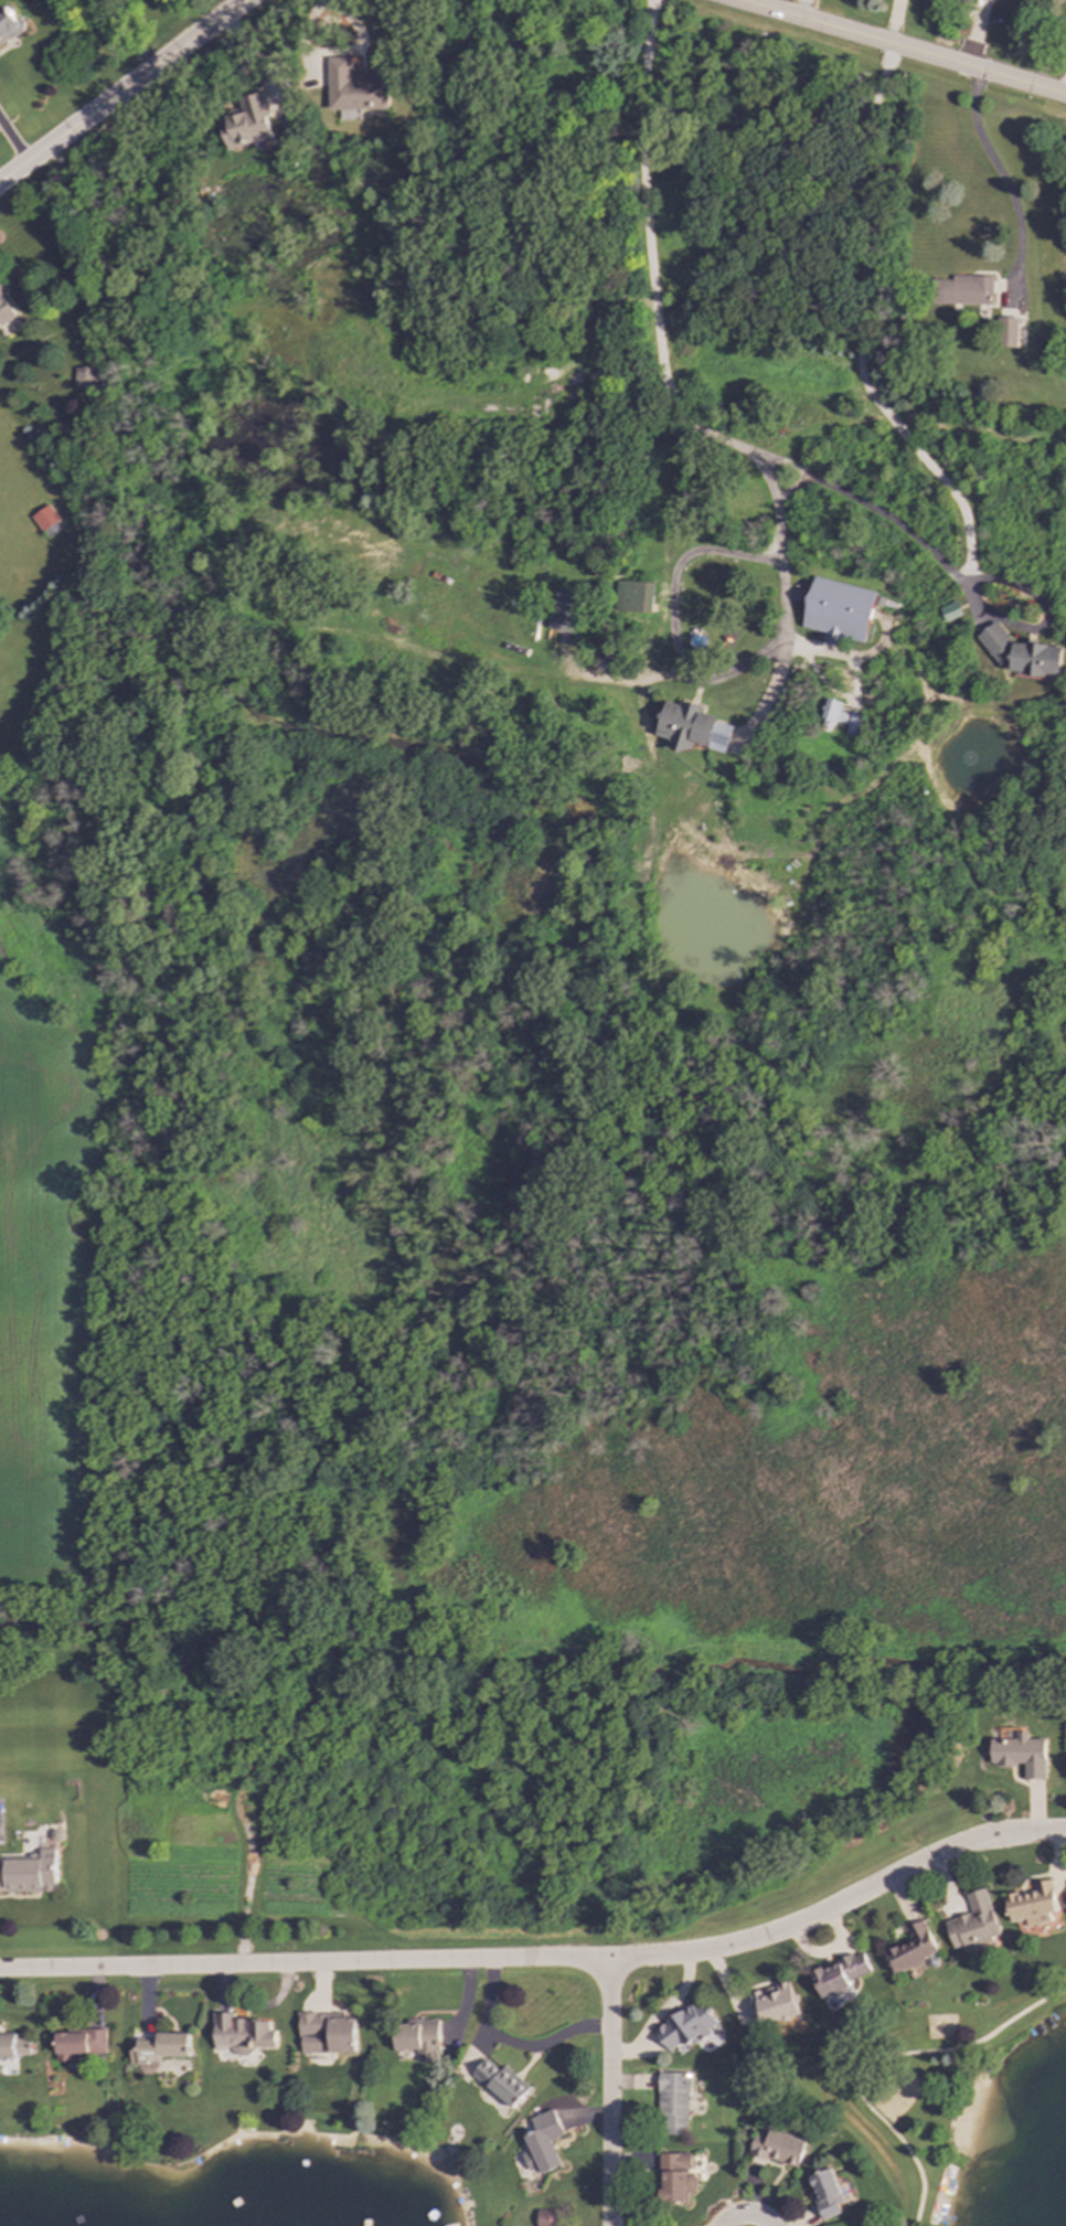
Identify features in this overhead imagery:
building: (1030, 0)
building: (8, 24)
road: (900, 47)
road: (339, 52)
building: (354, 87)
road: (124, 90)
building: (247, 123)
road: (14, 140)
road: (1000, 178)
building: (964, 290)
building: (4, 309)
road: (859, 331)
building: (1008, 331)
road: (662, 375)
building: (84, 379)
building: (44, 518)
road: (779, 569)
building: (633, 597)
building: (839, 610)
building: (564, 611)
building: (949, 611)
road: (672, 619)
building: (1020, 652)
building: (839, 717)
building: (692, 727)
crop: (40, 1292)
building: (1021, 1754)
building: (29, 1873)
building: (1032, 1904)
building: (973, 1924)
building: (913, 1948)
road: (544, 1958)
building: (841, 1974)
building: (775, 2004)
building: (685, 2026)
building: (241, 2033)
building: (326, 2033)
building: (417, 2038)
building: (76, 2043)
road: (512, 2044)
building: (6, 2046)
building: (21, 2046)
building: (157, 2049)
road: (881, 2055)
building: (501, 2083)
road: (608, 2092)
park: (897, 2094)
building: (541, 2142)
building: (777, 2145)
building: (675, 2176)
building: (827, 2194)
road: (746, 2216)

